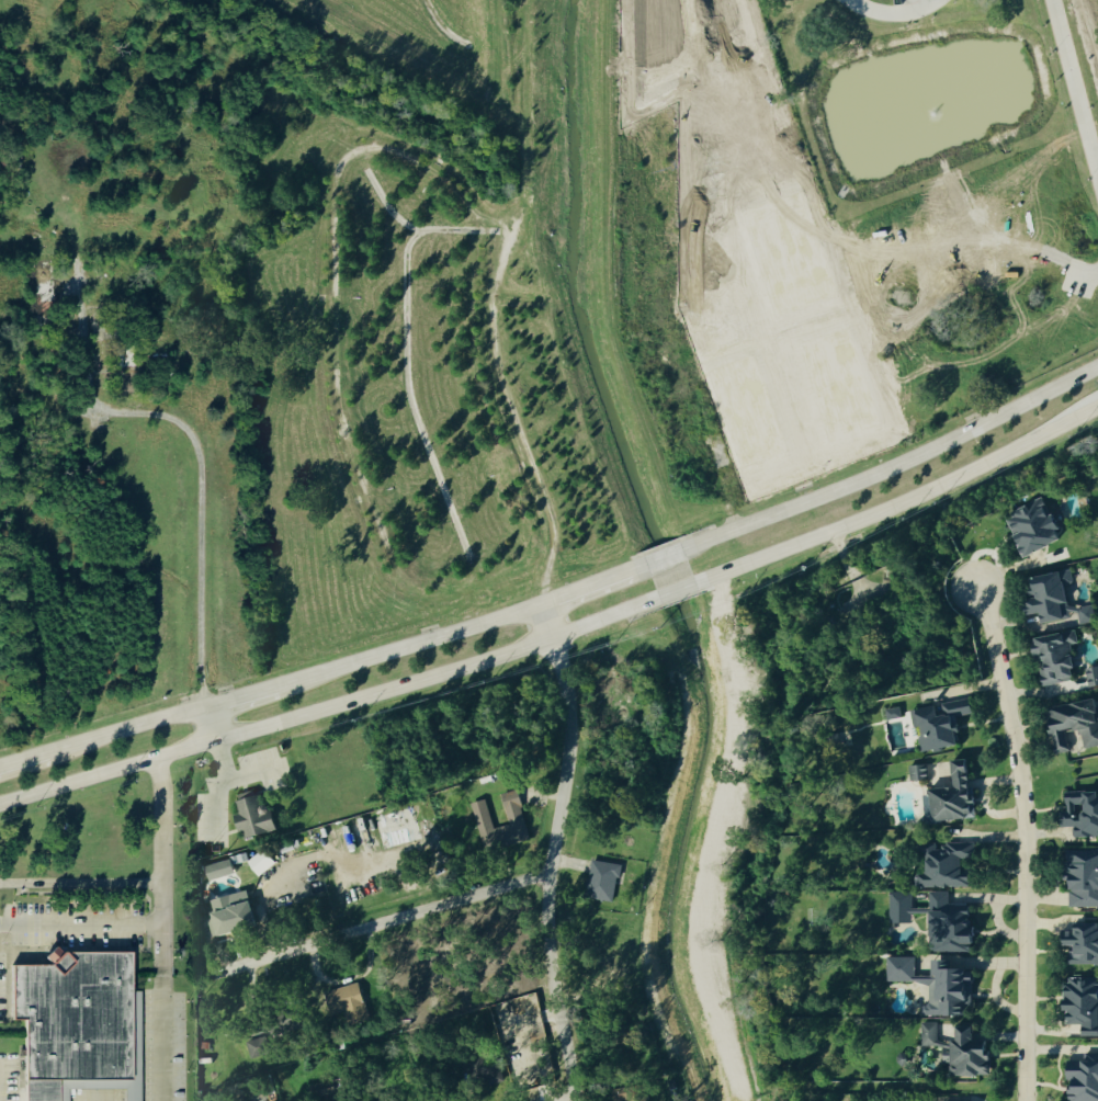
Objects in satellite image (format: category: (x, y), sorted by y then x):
road: (887, 11)
road: (1073, 77)
road: (202, 457)
road: (891, 466)
road: (898, 502)
building: (1039, 526)
road: (660, 559)
road: (590, 584)
road: (673, 591)
building: (1052, 598)
building: (1087, 614)
road: (407, 644)
building: (1059, 657)
building: (1094, 676)
road: (240, 695)
road: (328, 705)
building: (892, 713)
road: (211, 723)
building: (1077, 723)
building: (943, 724)
road: (126, 729)
road: (23, 760)
building: (917, 772)
building: (959, 795)
building: (1083, 813)
building: (256, 814)
building: (516, 814)
road: (1025, 841)
road: (553, 850)
building: (260, 862)
building: (950, 867)
building: (218, 870)
building: (1084, 878)
building: (603, 881)
road: (81, 884)
building: (902, 907)
building: (234, 920)
road: (381, 921)
building: (954, 923)
road: (81, 926)
road: (162, 929)
building: (1084, 945)
building: (940, 984)
building: (349, 1002)
building: (1085, 1004)
building: (284, 1020)
building: (82, 1024)
building: (931, 1034)
building: (256, 1047)
building: (950, 1054)
building: (973, 1055)
building: (1085, 1079)
building: (631, 1093)
road: (565, 1098)

